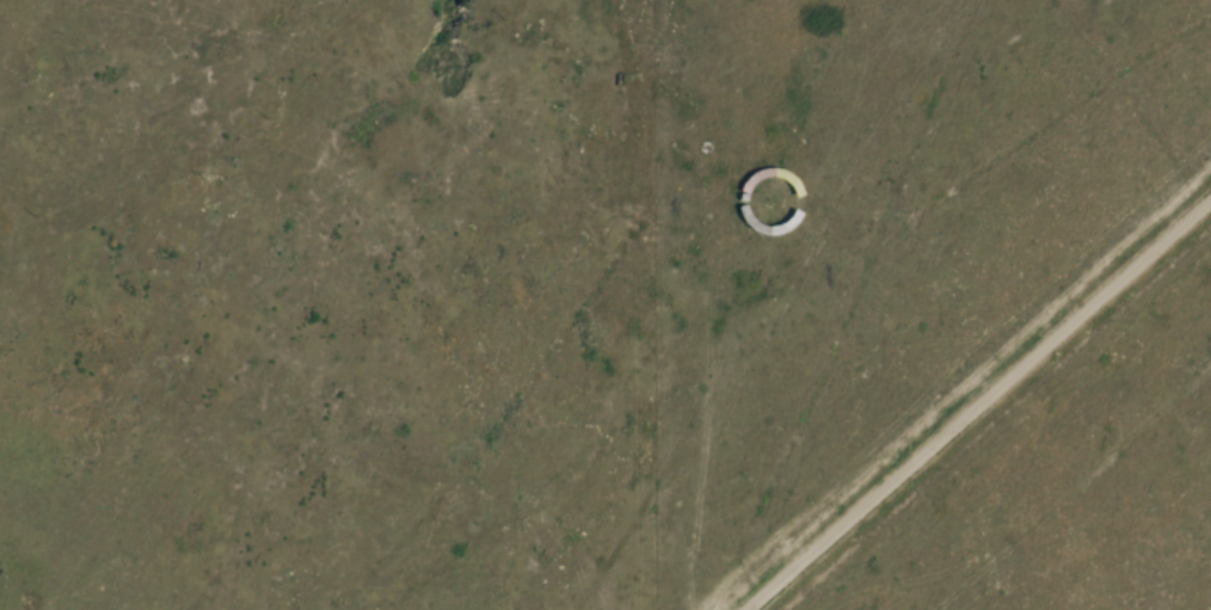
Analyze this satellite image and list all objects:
road: (930, 359)

